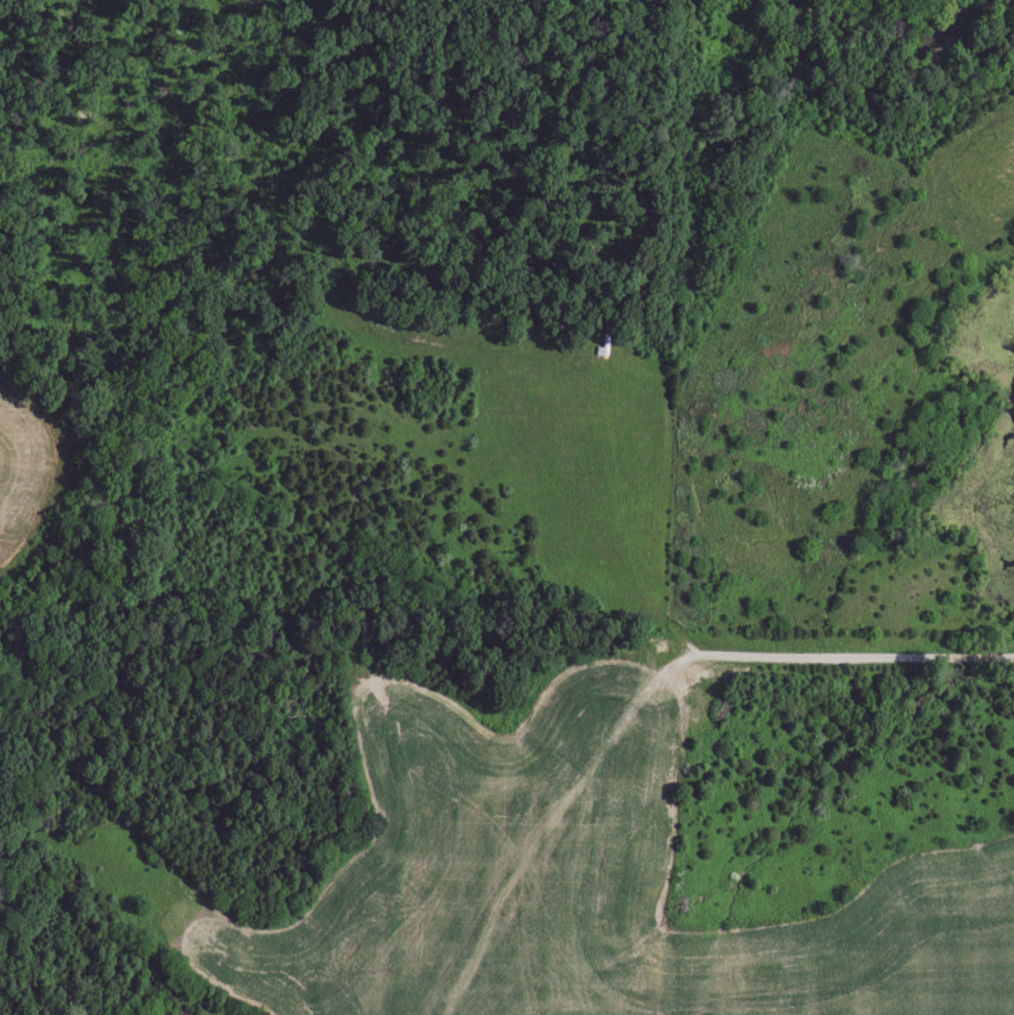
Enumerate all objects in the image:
road: (862, 656)

